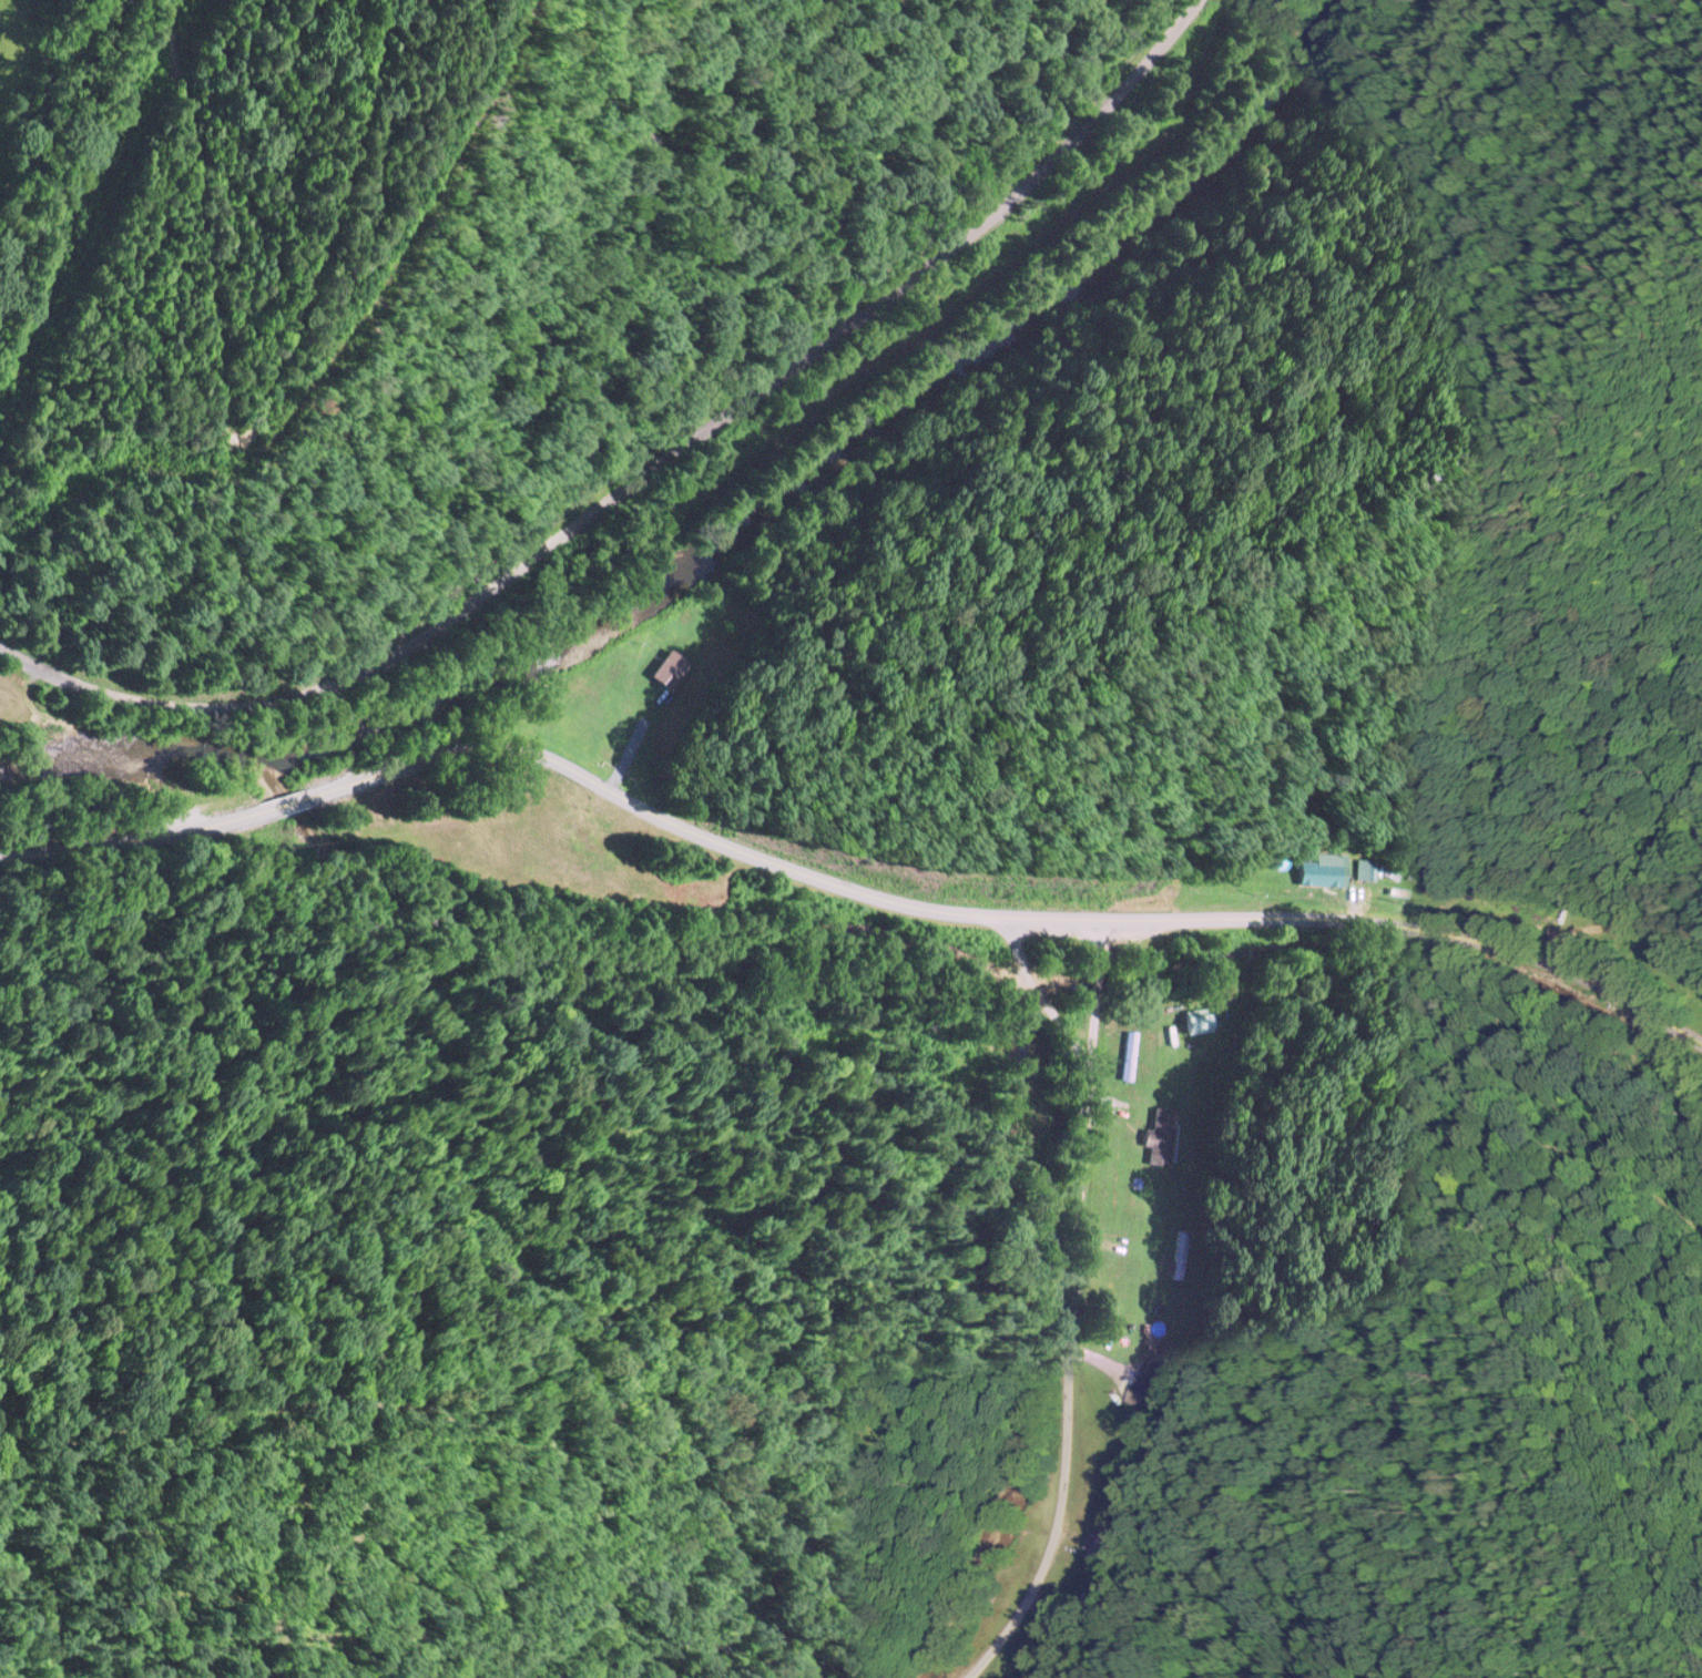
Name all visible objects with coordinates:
road: (674, 505)
building: (644, 729)
building: (1321, 870)
road: (1598, 879)
road: (842, 882)
building: (1199, 1019)
road: (1101, 1281)

